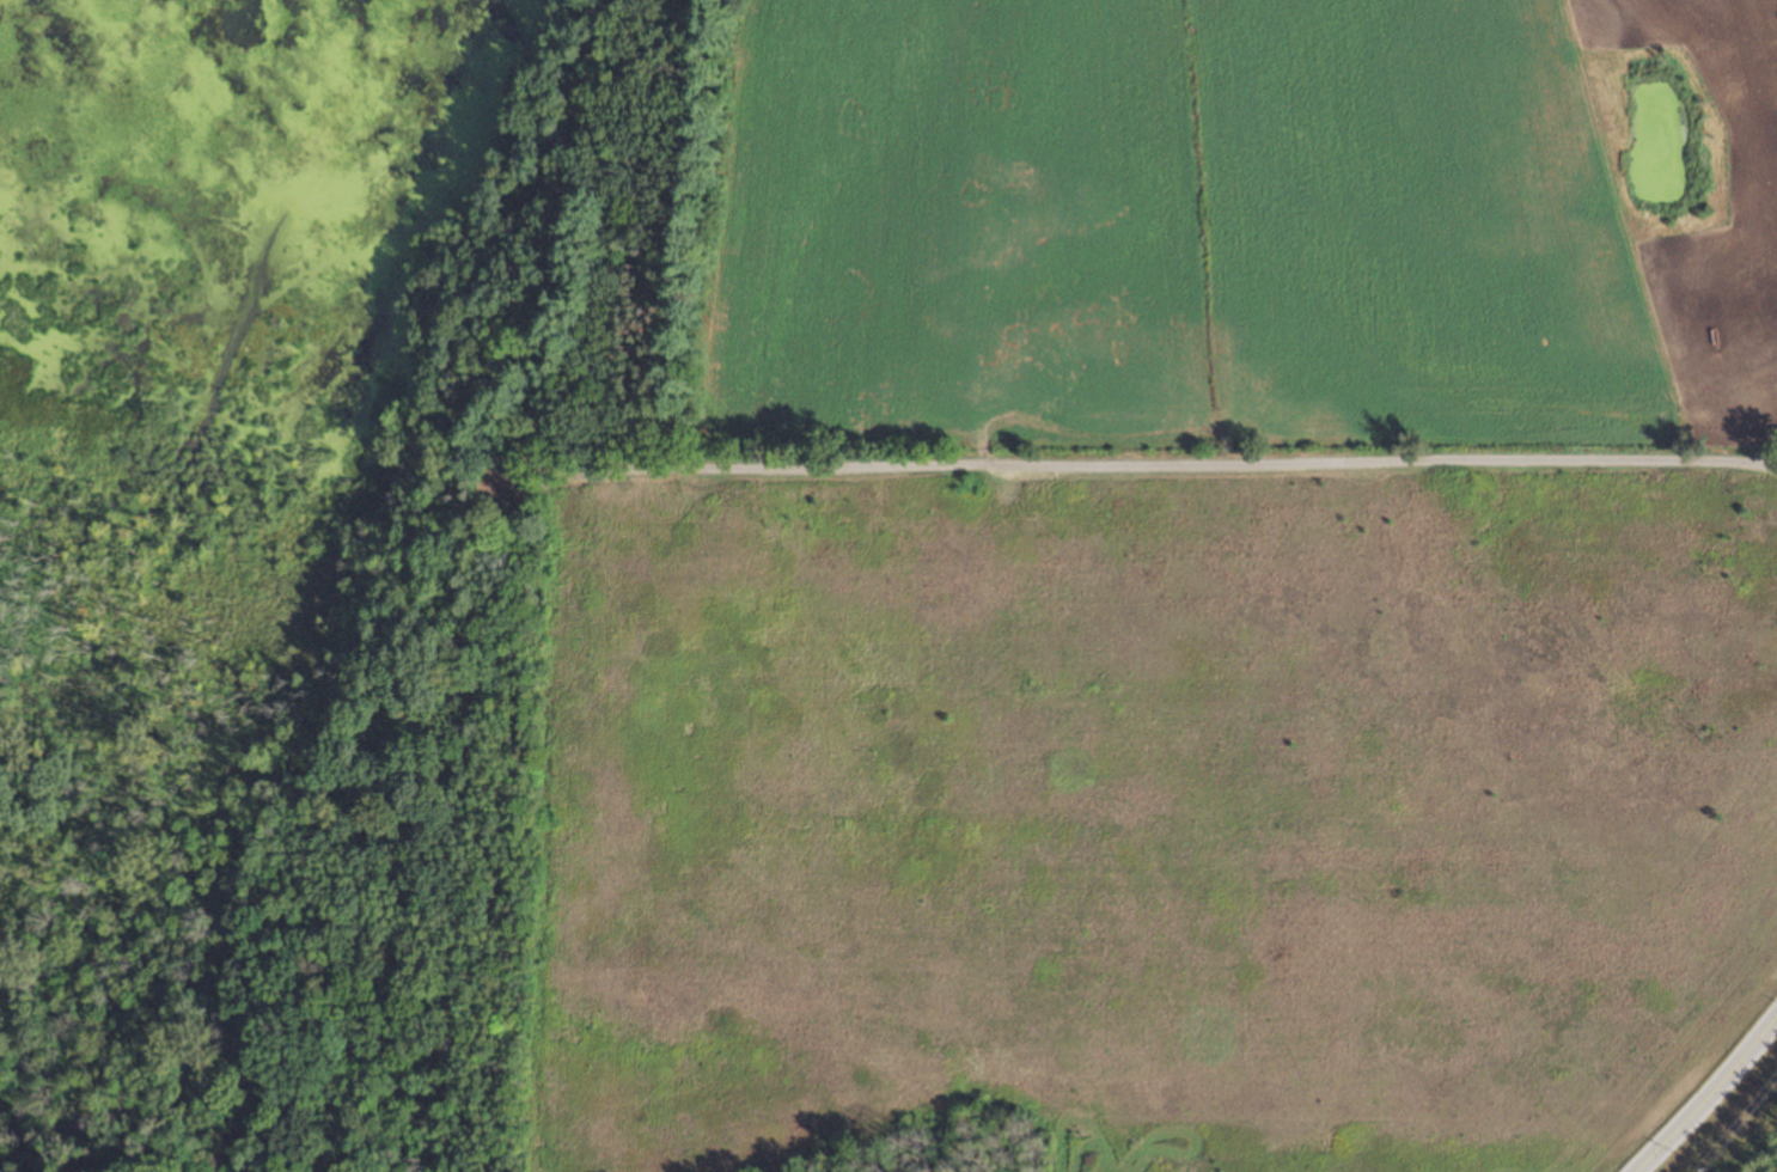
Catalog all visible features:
road: (1152, 465)
road: (1710, 1095)

